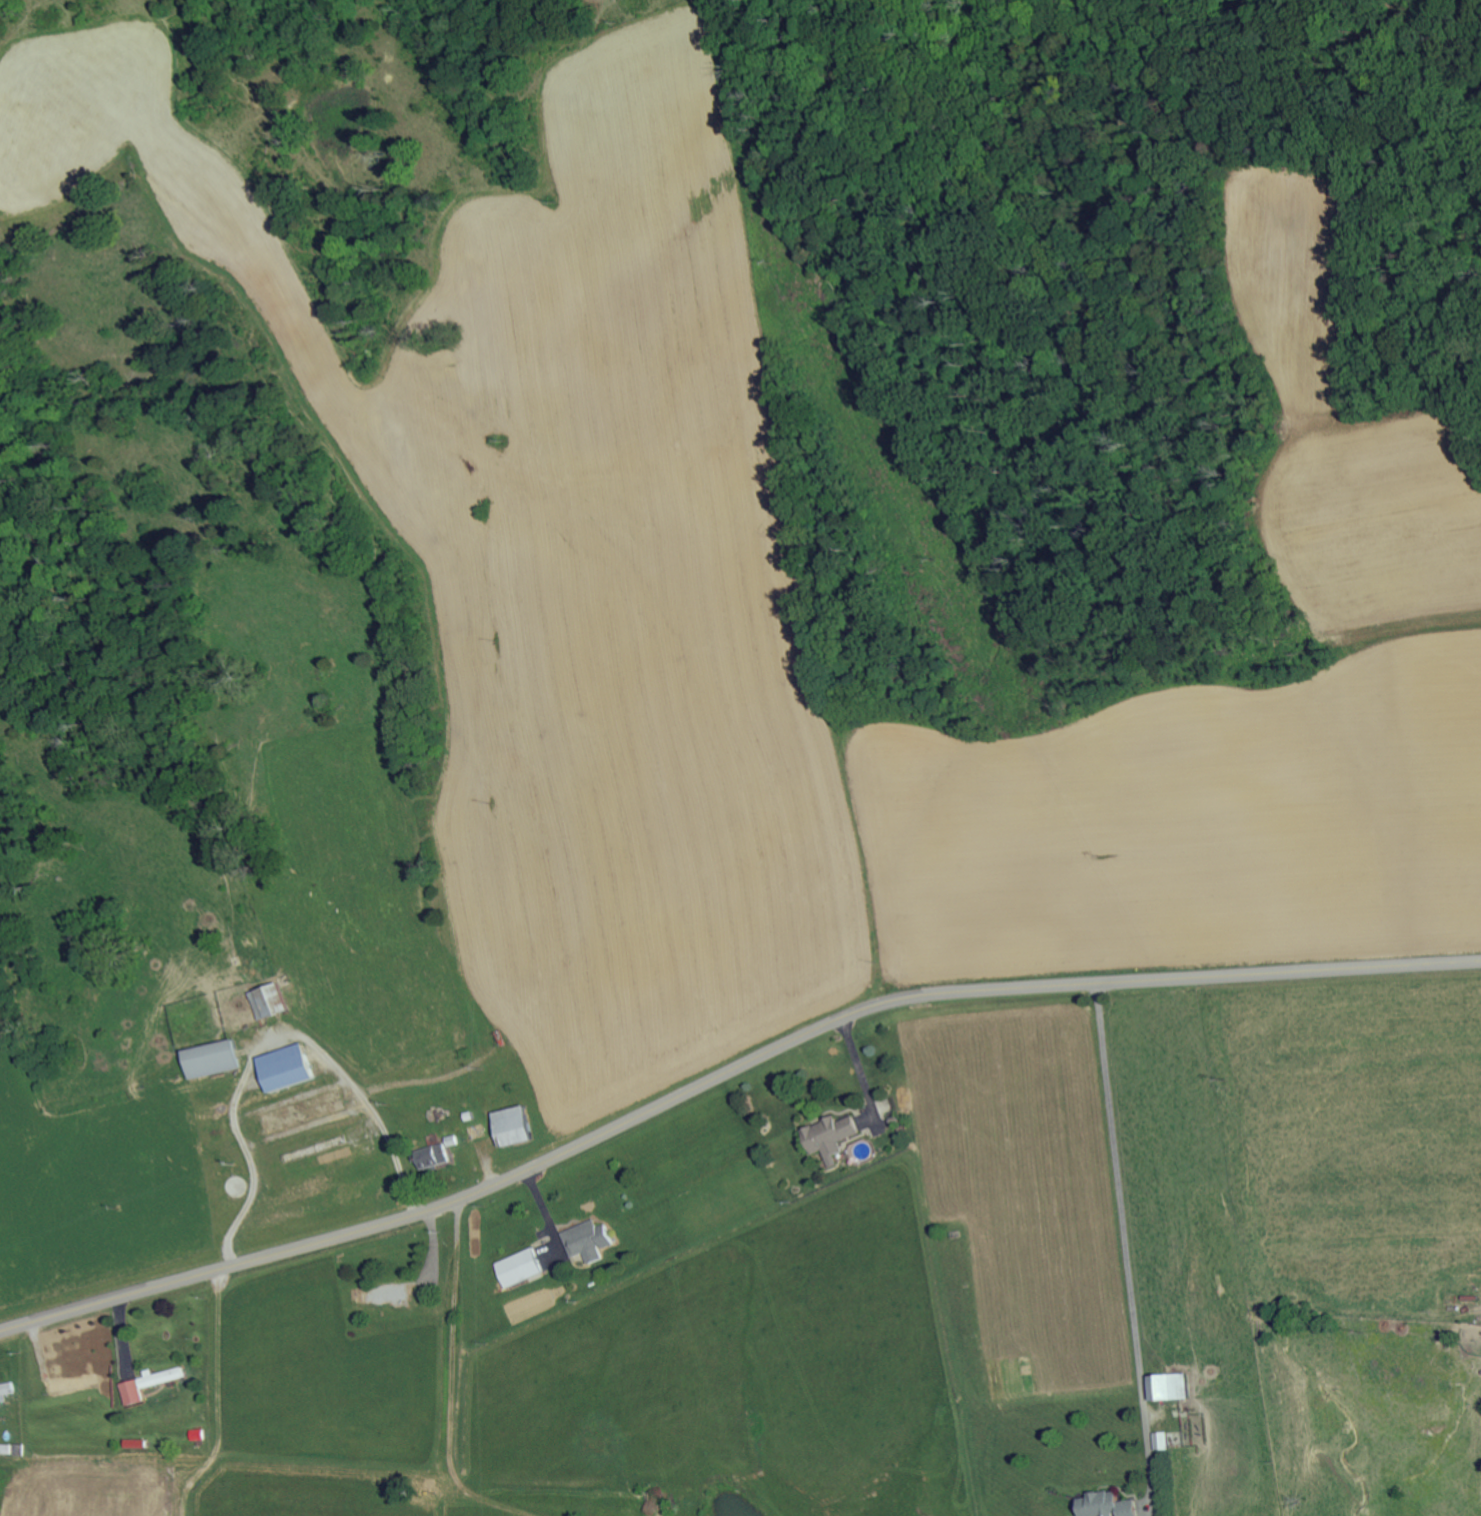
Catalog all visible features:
road: (1116, 515)
road: (720, 917)
building: (266, 1000)
building: (207, 1058)
building: (281, 1067)
road: (725, 1075)
building: (509, 1125)
building: (475, 1131)
building: (828, 1136)
building: (430, 1156)
building: (585, 1240)
road: (1064, 1251)
building: (518, 1267)
building: (161, 1376)
building: (1165, 1386)
building: (131, 1391)
building: (1159, 1440)
building: (4, 1449)
building: (1099, 1504)

